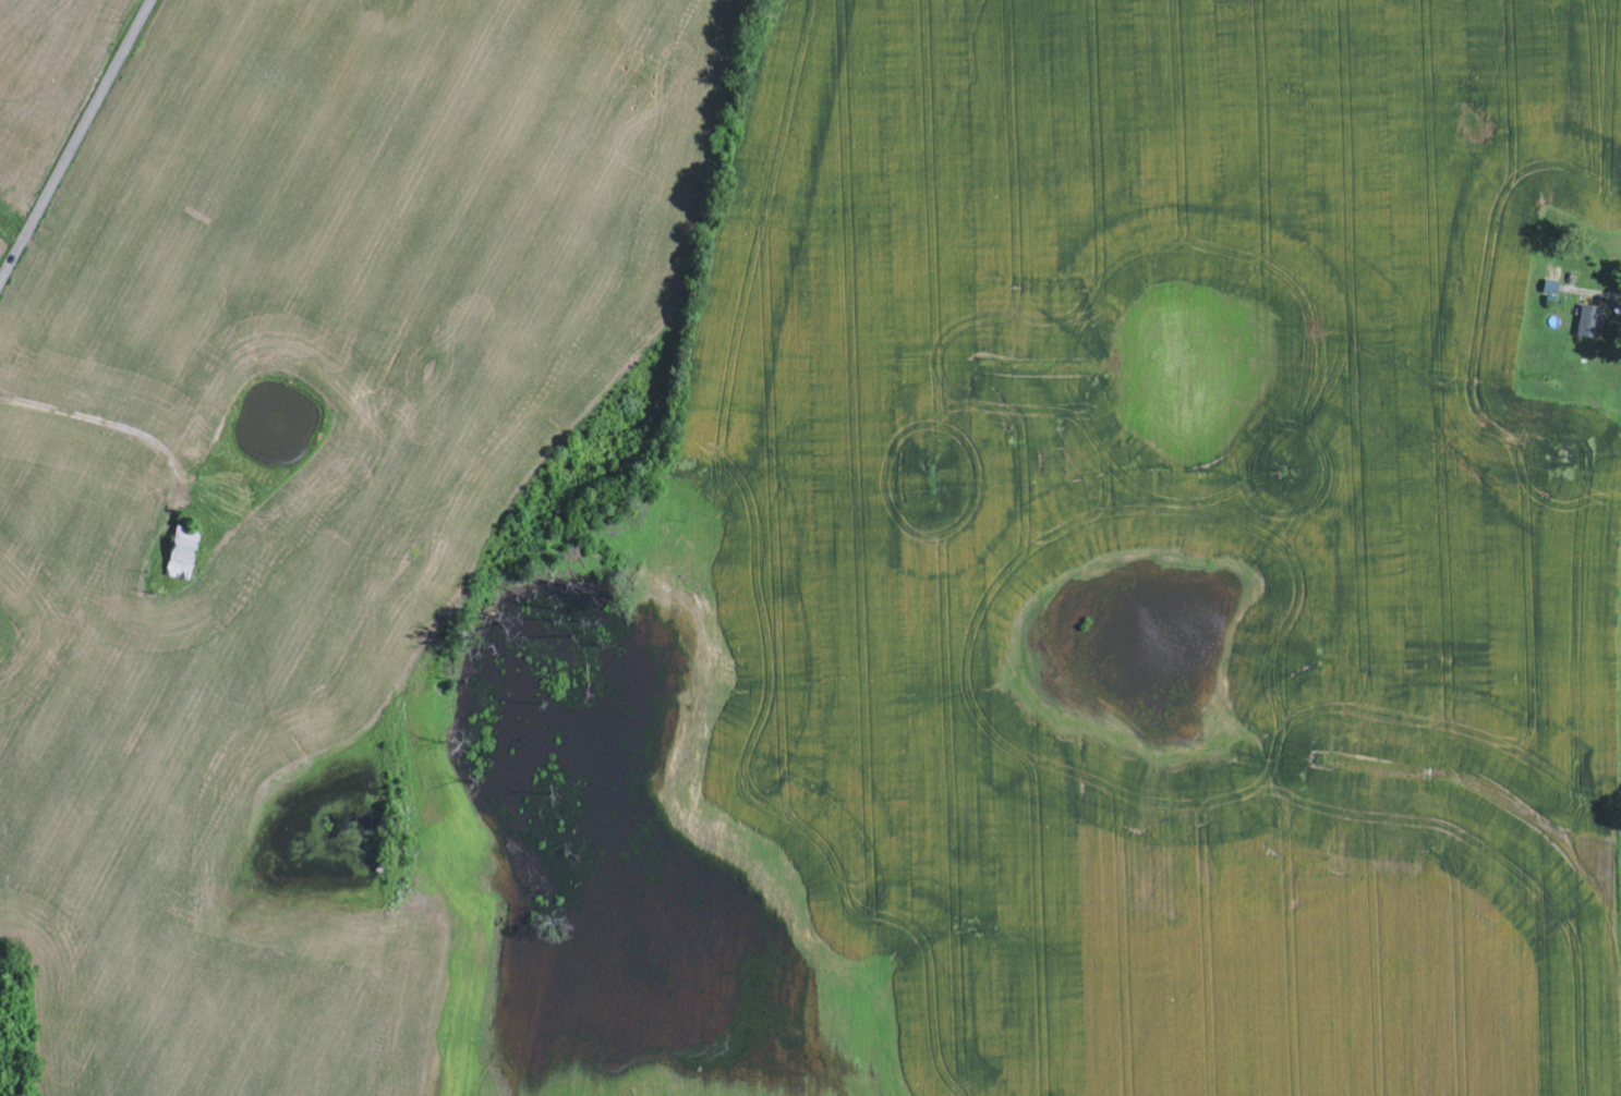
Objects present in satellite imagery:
road: (76, 145)
building: (1586, 322)

